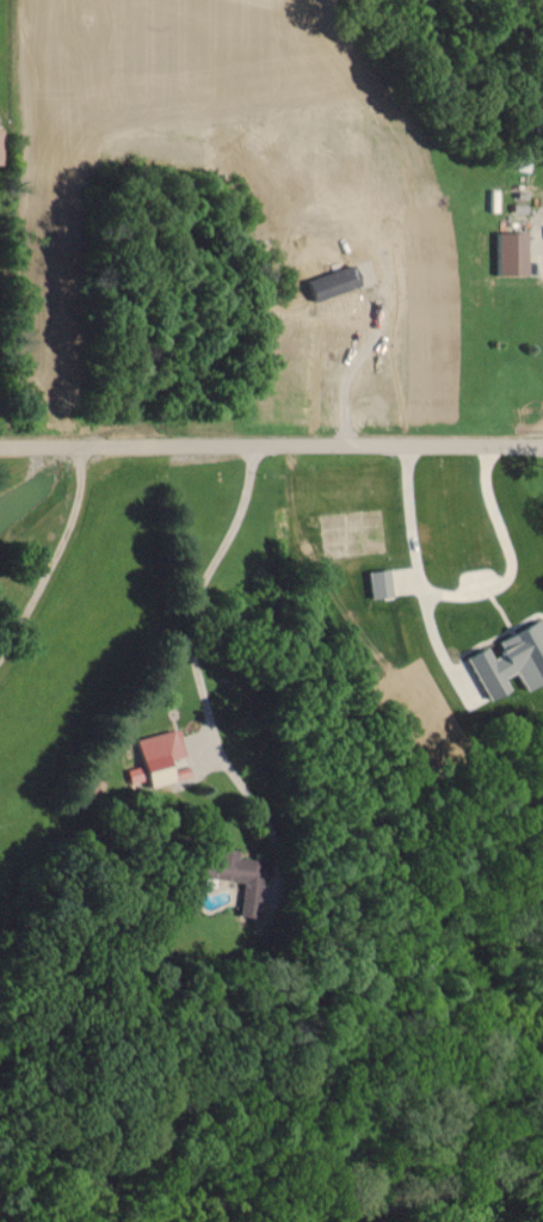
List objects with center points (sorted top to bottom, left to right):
park: (4, 43)
building: (506, 253)
road: (271, 440)
building: (375, 583)
road: (462, 592)
road: (193, 656)
building: (508, 659)
building: (155, 754)
building: (234, 876)

